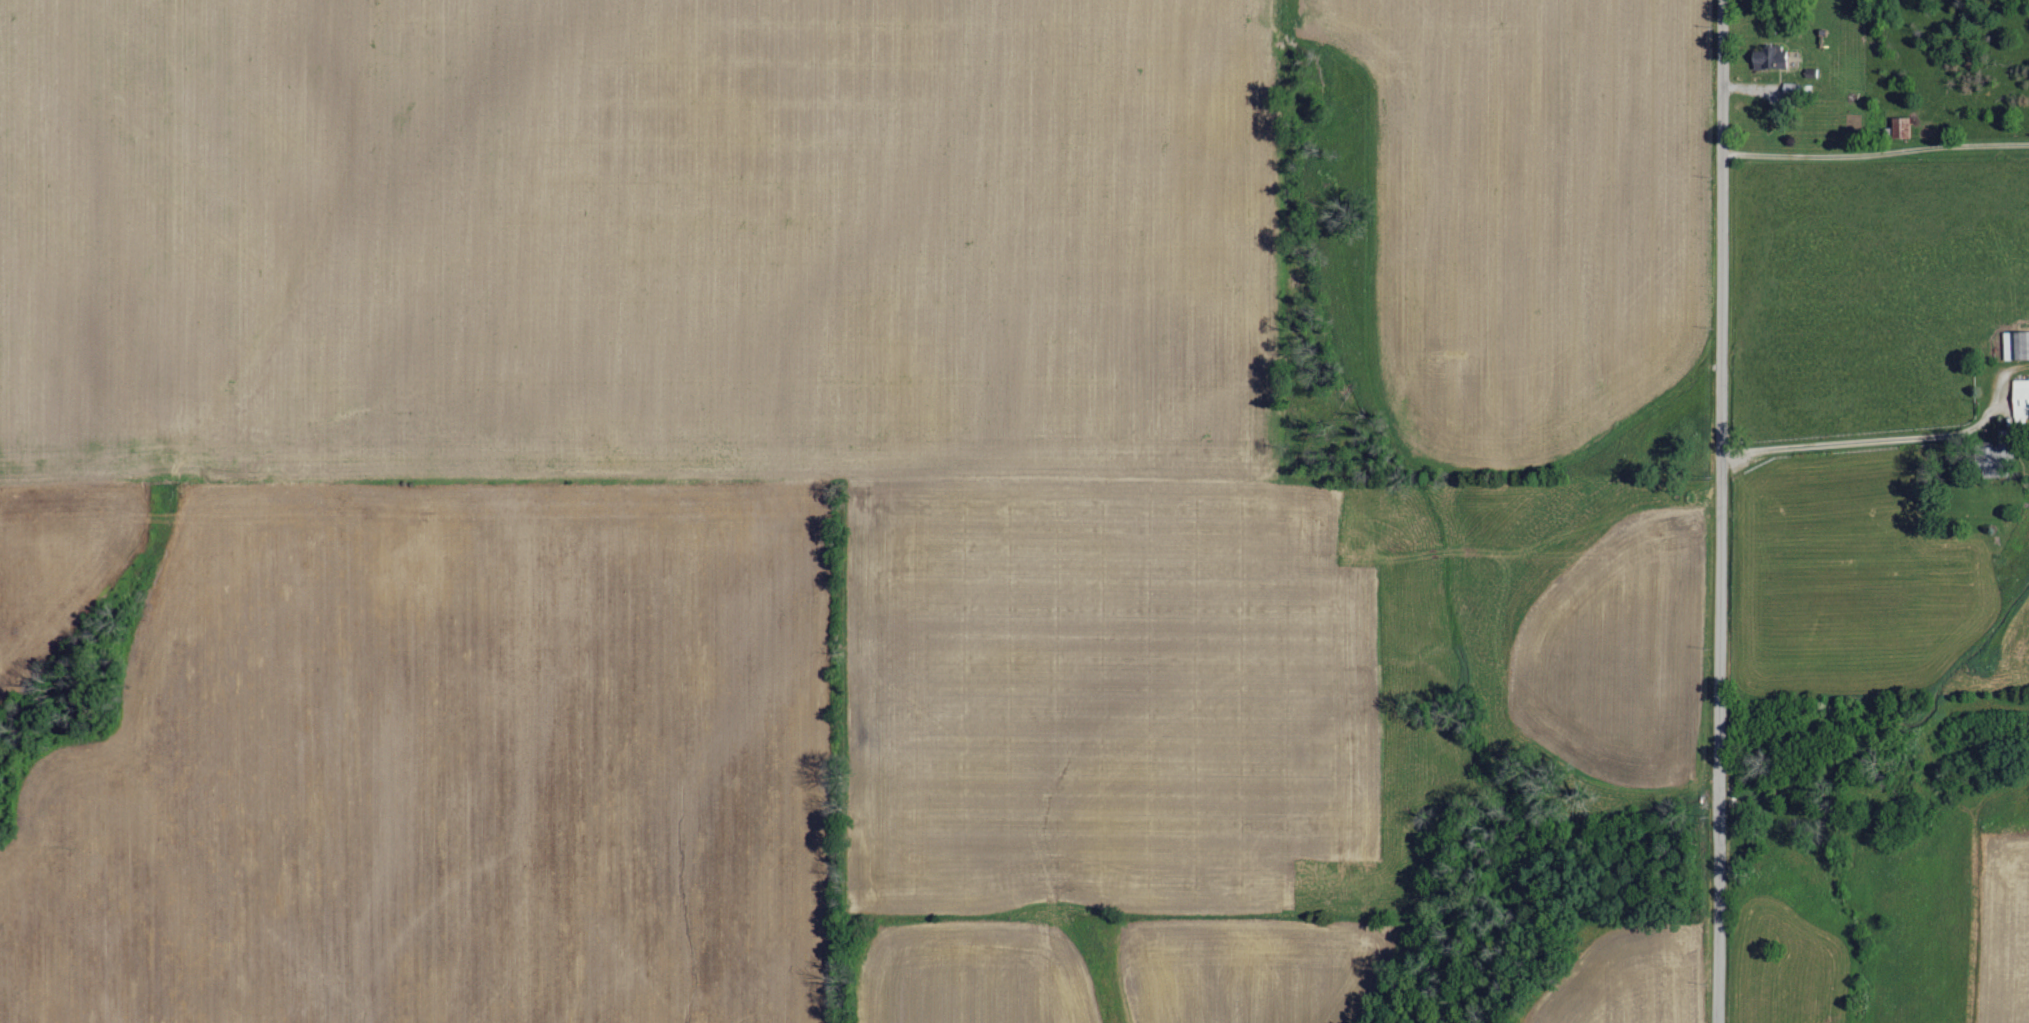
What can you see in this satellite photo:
building: (1770, 57)
building: (1790, 88)
building: (1903, 127)
building: (2021, 345)
road: (1722, 391)
building: (2022, 398)
building: (1993, 450)
road: (1721, 797)
road: (1720, 917)
crop: (2002, 929)

